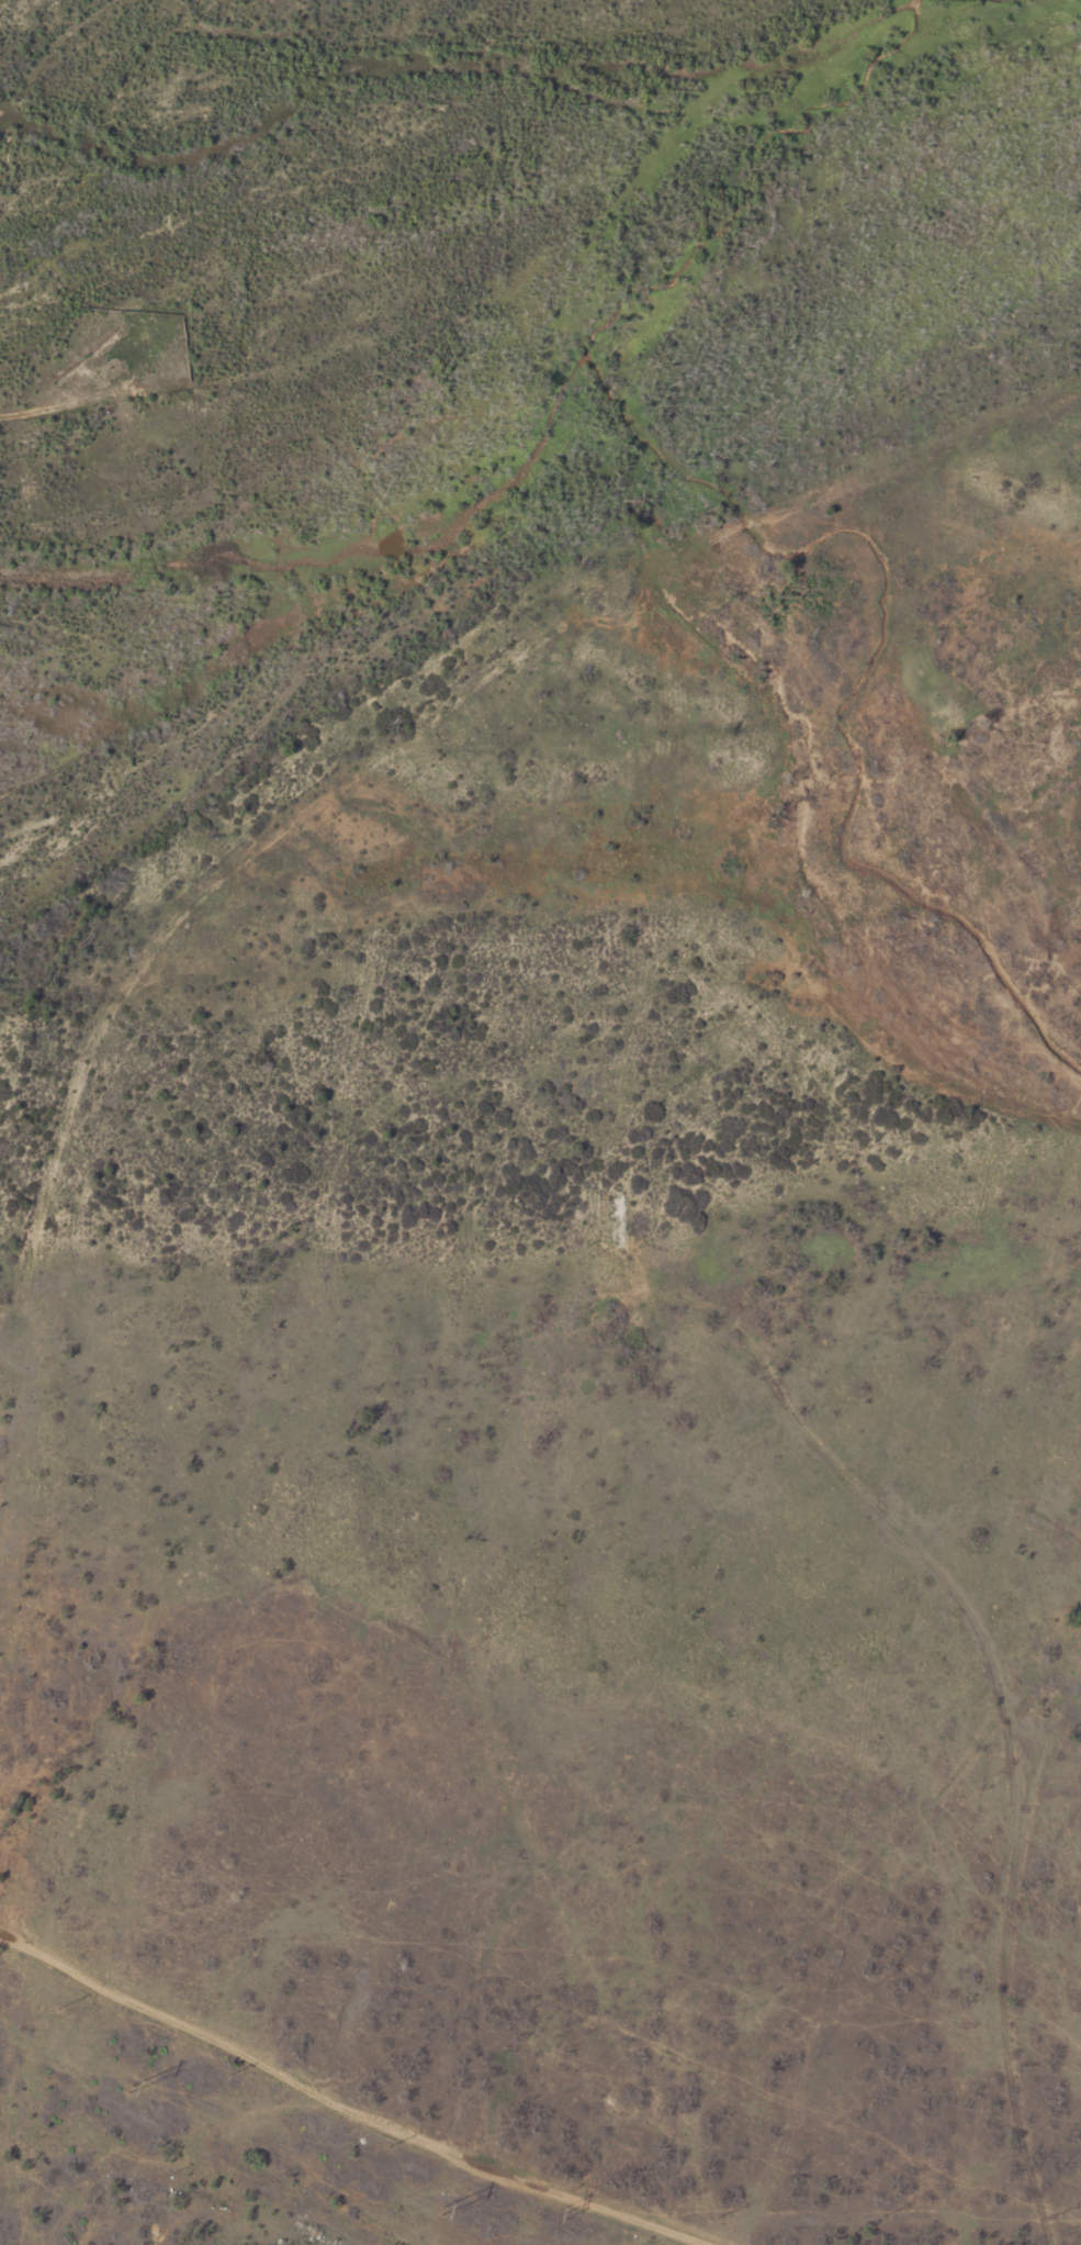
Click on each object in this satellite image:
river: (551, 417)
power tower: (130, 2088)
power tower: (441, 2210)

